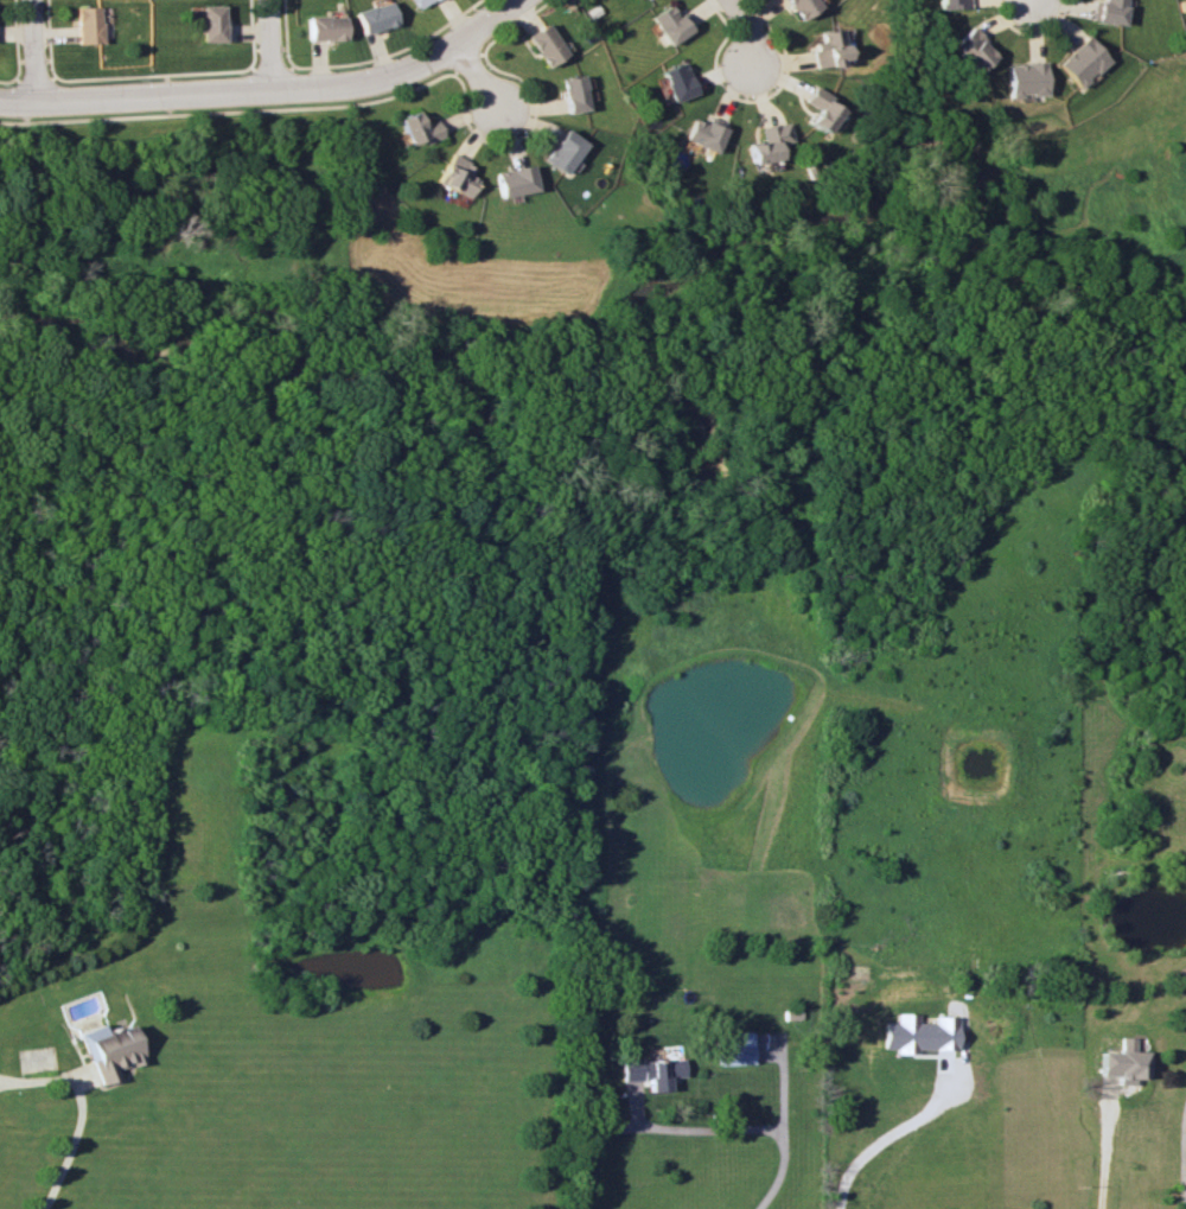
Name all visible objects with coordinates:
road: (1028, 0)
building: (416, 2)
building: (948, 4)
building: (796, 7)
building: (1105, 11)
building: (371, 17)
building: (210, 23)
building: (668, 23)
road: (1052, 23)
road: (509, 24)
road: (1002, 24)
building: (87, 25)
building: (321, 27)
road: (746, 30)
road: (248, 32)
road: (281, 32)
road: (47, 37)
road: (15, 38)
building: (542, 44)
road: (268, 45)
building: (824, 49)
building: (967, 49)
road: (388, 51)
road: (30, 53)
road: (461, 59)
building: (1079, 61)
road: (268, 69)
road: (149, 74)
road: (474, 77)
building: (1020, 78)
road: (7, 79)
road: (32, 79)
building: (674, 81)
road: (269, 90)
building: (570, 94)
road: (746, 100)
road: (227, 109)
building: (814, 109)
building: (414, 128)
building: (700, 134)
road: (514, 136)
building: (765, 142)
building: (559, 151)
building: (454, 174)
building: (510, 180)
park: (629, 244)
river: (638, 354)
building: (919, 1033)
building: (733, 1048)
building: (110, 1052)
building: (1122, 1062)
building: (652, 1070)
road: (769, 1116)
road: (881, 1138)
road: (68, 1144)
road: (1184, 1151)
road: (1101, 1160)

